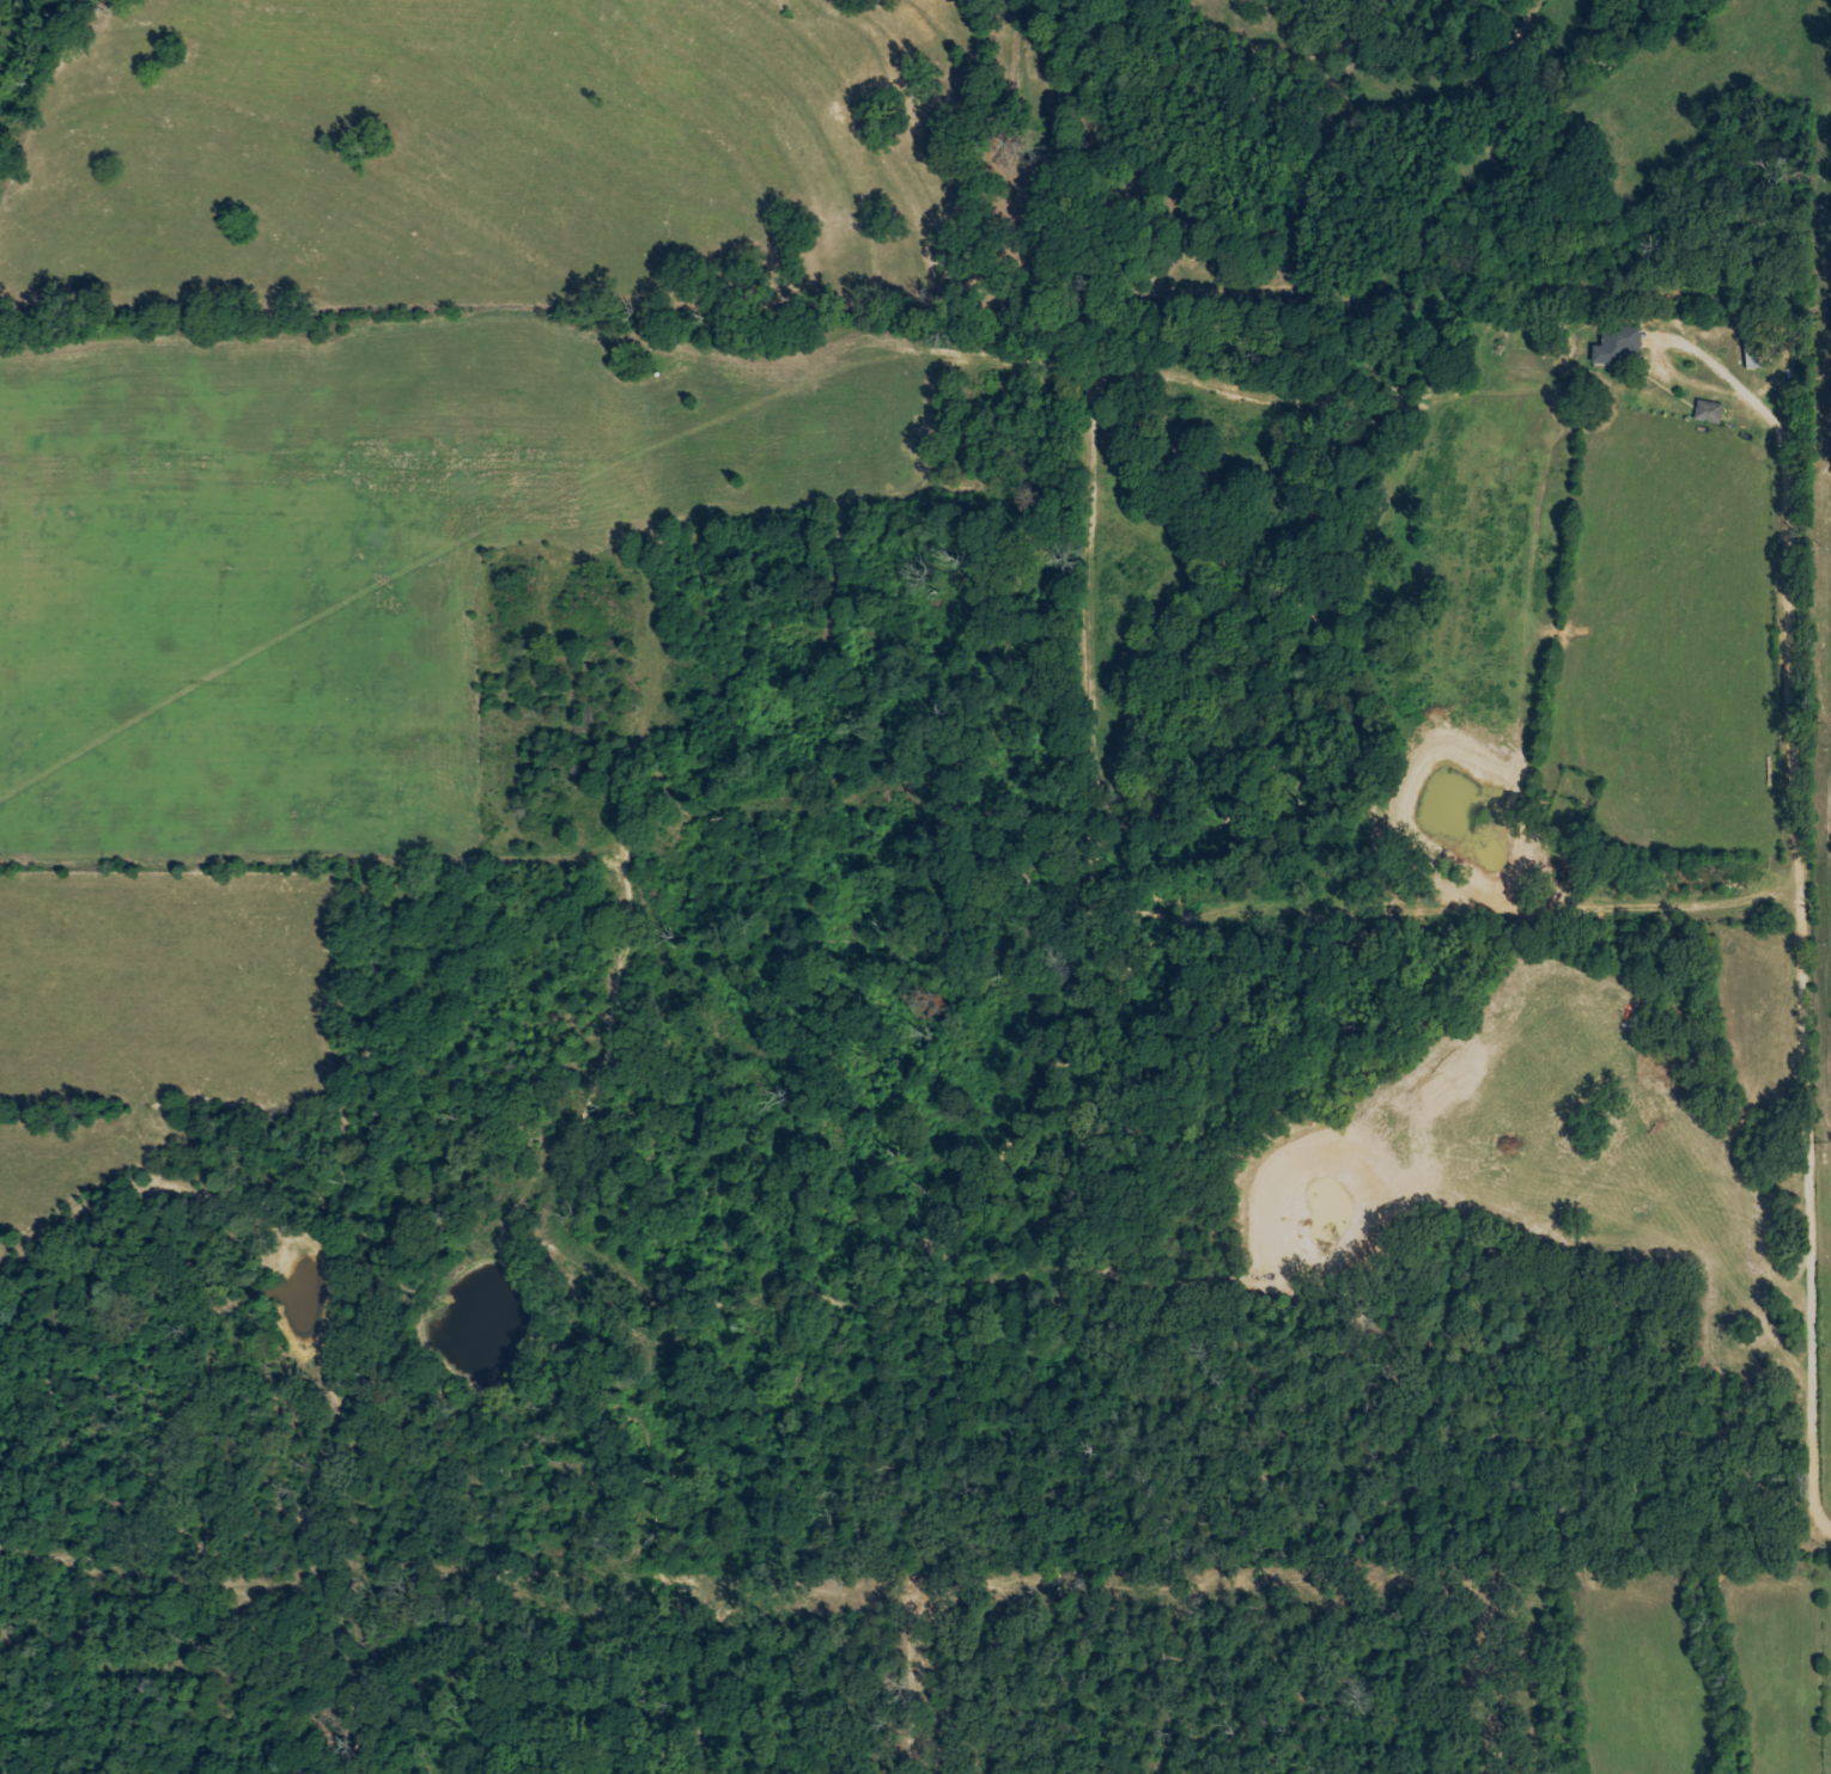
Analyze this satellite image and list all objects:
building: (1617, 343)
building: (1708, 412)
road: (1801, 822)

